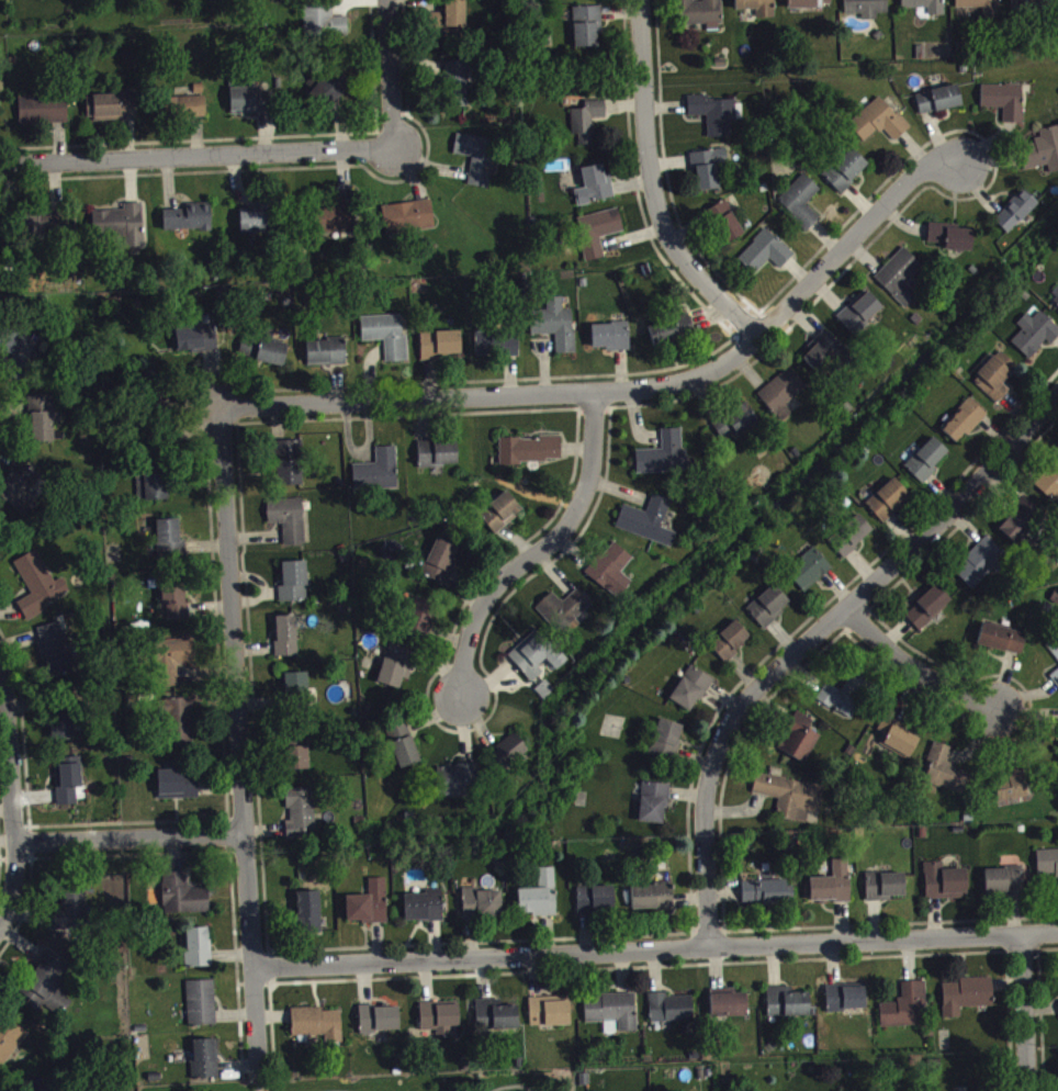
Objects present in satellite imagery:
building: (563, 0)
building: (1031, 4)
building: (811, 5)
building: (925, 9)
building: (980, 9)
building: (757, 10)
building: (867, 11)
building: (704, 18)
building: (452, 22)
building: (327, 30)
building: (588, 32)
road: (394, 75)
building: (457, 90)
building: (334, 93)
building: (939, 105)
building: (251, 106)
building: (1005, 106)
building: (112, 112)
building: (189, 112)
building: (44, 115)
building: (714, 120)
building: (587, 126)
building: (879, 126)
building: (1042, 157)
road: (199, 158)
building: (479, 164)
building: (709, 173)
building: (846, 176)
road: (646, 189)
building: (596, 191)
building: (801, 206)
building: (1016, 217)
building: (409, 223)
building: (188, 224)
building: (338, 224)
building: (255, 227)
building: (725, 228)
building: (49, 229)
building: (122, 229)
building: (598, 237)
building: (952, 243)
building: (766, 258)
building: (901, 282)
building: (1055, 303)
building: (860, 318)
building: (556, 330)
building: (671, 336)
building: (1035, 340)
building: (387, 341)
building: (612, 342)
building: (192, 346)
building: (498, 349)
building: (442, 350)
building: (23, 356)
building: (269, 356)
building: (327, 358)
building: (824, 358)
building: (997, 382)
road: (634, 392)
building: (783, 398)
building: (43, 424)
building: (965, 427)
building: (736, 428)
building: (531, 455)
building: (439, 460)
building: (665, 461)
building: (927, 466)
building: (289, 468)
building: (379, 476)
building: (20, 488)
building: (1049, 488)
building: (157, 493)
building: (889, 506)
building: (502, 518)
building: (289, 525)
building: (649, 527)
building: (1022, 527)
building: (854, 542)
building: (171, 545)
road: (539, 550)
building: (442, 567)
building: (981, 569)
building: (612, 575)
building: (810, 575)
building: (295, 588)
building: (40, 591)
building: (176, 606)
building: (769, 612)
building: (566, 614)
building: (928, 614)
building: (419, 615)
road: (812, 641)
building: (288, 642)
building: (1003, 644)
building: (731, 646)
building: (55, 655)
building: (1056, 657)
building: (537, 661)
building: (171, 666)
building: (397, 672)
road: (916, 674)
building: (1055, 683)
building: (296, 690)
building: (693, 695)
building: (847, 700)
building: (181, 728)
building: (63, 732)
road: (240, 738)
building: (799, 744)
building: (899, 744)
building: (667, 745)
building: (404, 751)
building: (509, 756)
building: (299, 764)
building: (946, 776)
building: (69, 786)
building: (460, 787)
building: (179, 790)
building: (1011, 790)
road: (14, 797)
building: (791, 802)
building: (654, 809)
building: (302, 820)
road: (132, 843)
building: (1047, 868)
building: (1004, 886)
building: (946, 888)
building: (831, 890)
building: (886, 892)
building: (766, 898)
building: (183, 901)
building: (540, 901)
building: (653, 902)
building: (597, 906)
building: (370, 910)
building: (483, 910)
building: (425, 912)
building: (72, 915)
building: (309, 918)
road: (655, 951)
building: (199, 954)
building: (45, 987)
building: (968, 1001)
building: (847, 1004)
building: (202, 1009)
building: (788, 1009)
building: (730, 1010)
building: (907, 1012)
road: (1028, 1013)
building: (672, 1014)
building: (612, 1017)
building: (550, 1019)
building: (497, 1022)
building: (440, 1024)
building: (380, 1025)
building: (318, 1028)
building: (10, 1045)
building: (206, 1065)
road: (264, 1081)
park: (403, 1083)
road: (511, 1084)
building: (33, 1089)
road: (338, 1090)

